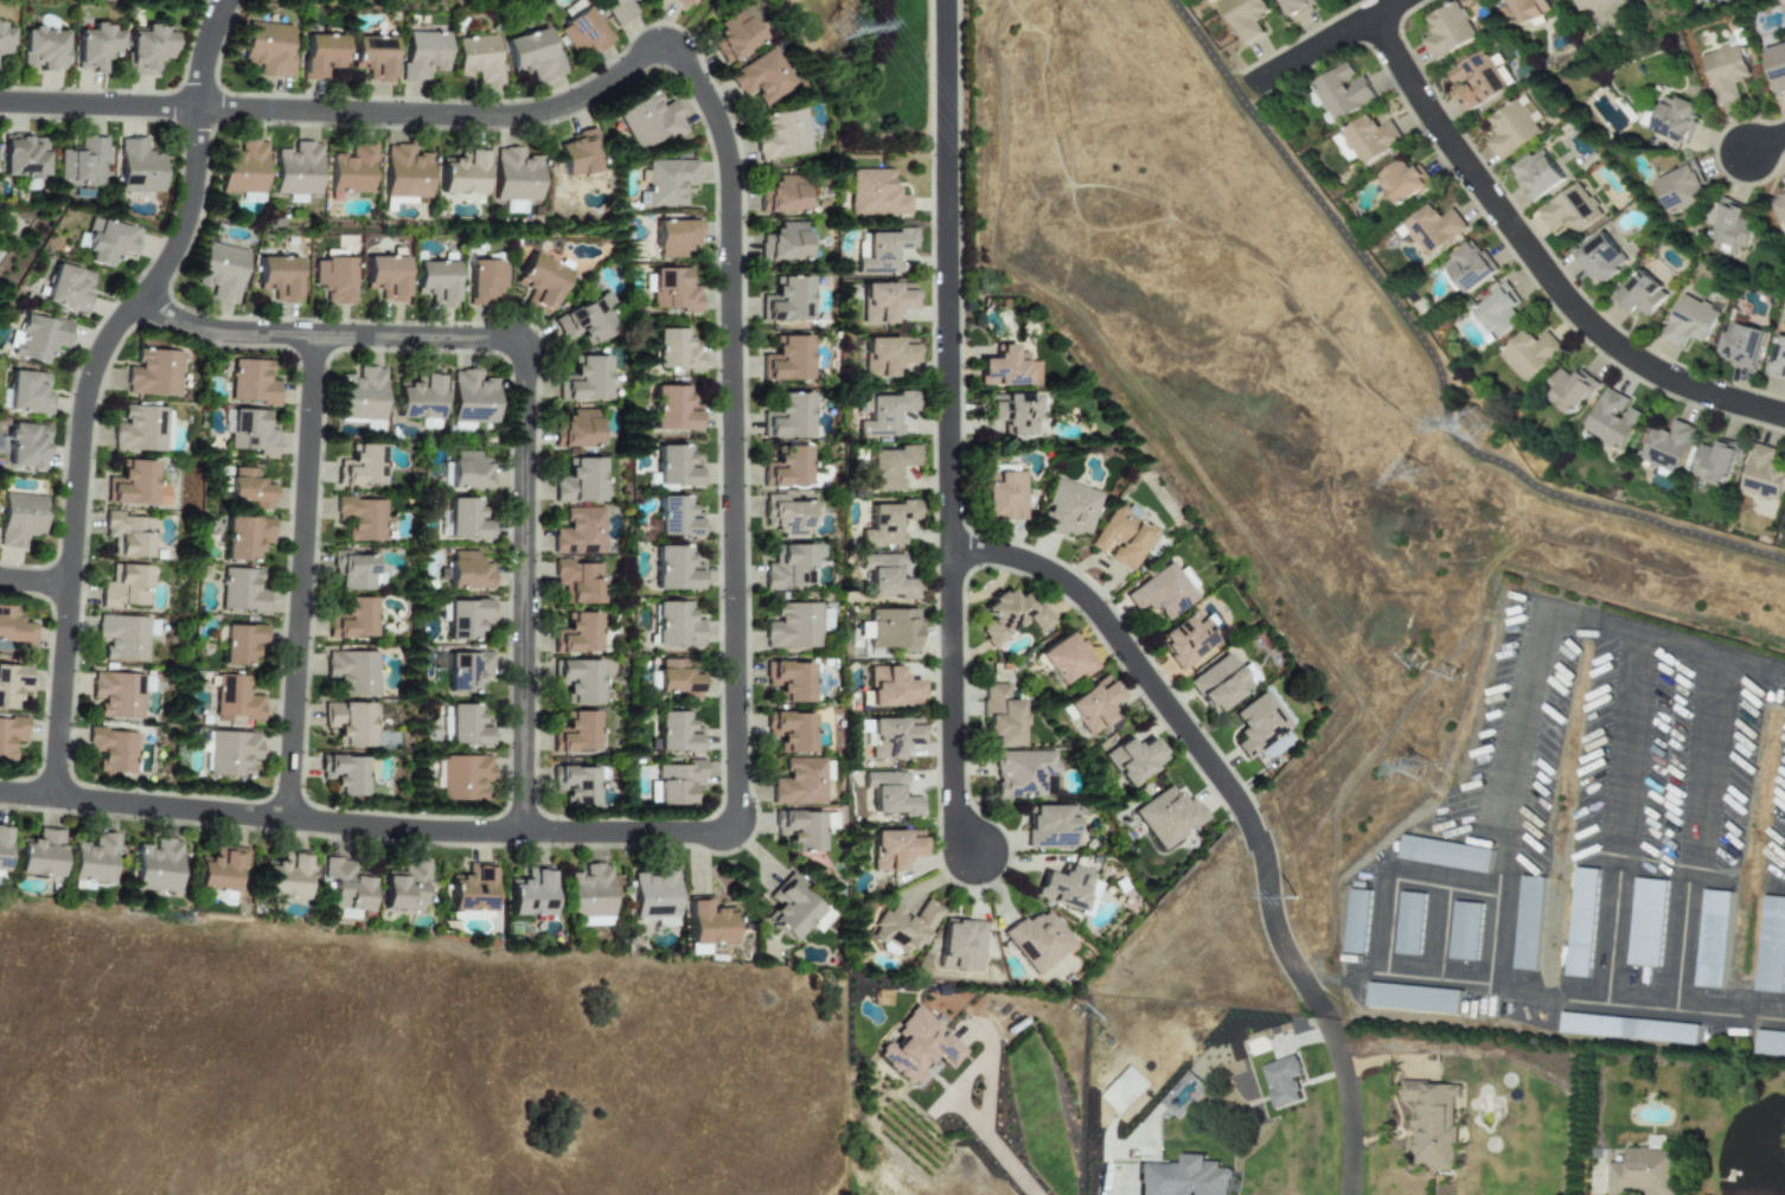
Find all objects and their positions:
building: (679, 2)
building: (1593, 4)
building: (1298, 6)
building: (613, 9)
building: (1528, 9)
building: (1246, 17)
power tower: (844, 31)
building: (1448, 31)
building: (577, 33)
building: (730, 36)
building: (4, 41)
road: (1326, 43)
building: (96, 46)
building: (41, 50)
building: (148, 50)
building: (267, 50)
building: (526, 55)
building: (418, 56)
building: (316, 57)
building: (369, 58)
building: (472, 58)
building: (1776, 66)
park: (907, 69)
building: (1725, 72)
building: (759, 78)
road: (1243, 82)
building: (1476, 82)
building: (1343, 91)
road: (345, 111)
building: (1674, 119)
building: (646, 122)
building: (1511, 130)
building: (779, 135)
building: (1370, 139)
road: (1766, 141)
building: (1343, 148)
building: (24, 156)
building: (576, 156)
building: (82, 165)
building: (139, 168)
building: (244, 168)
building: (299, 170)
building: (350, 172)
building: (403, 173)
building: (460, 175)
building: (1537, 175)
building: (513, 177)
building: (1403, 181)
building: (666, 183)
building: (1681, 188)
building: (875, 196)
building: (780, 197)
building: (1779, 205)
building: (1572, 210)
building: (1432, 229)
building: (1729, 229)
building: (672, 239)
building: (108, 243)
building: (781, 243)
building: (882, 250)
building: (1600, 258)
road: (1538, 262)
building: (1470, 267)
building: (220, 270)
building: (279, 277)
building: (380, 277)
road: (951, 277)
building: (328, 280)
building: (429, 283)
building: (536, 283)
building: (480, 285)
building: (69, 289)
building: (670, 293)
building: (1640, 294)
building: (785, 301)
building: (882, 303)
building: (1496, 312)
building: (1690, 321)
building: (581, 324)
building: (39, 338)
road: (325, 338)
building: (1741, 343)
building: (672, 352)
building: (1530, 353)
road: (1432, 357)
building: (884, 358)
building: (1779, 359)
building: (785, 362)
building: (1005, 370)
building: (154, 373)
building: (584, 381)
road: (91, 383)
building: (251, 383)
building: (1569, 389)
building: (28, 394)
building: (358, 396)
building: (471, 398)
building: (415, 400)
building: (670, 413)
building: (883, 414)
building: (1007, 415)
building: (786, 418)
building: (1613, 420)
building: (372, 427)
building: (141, 429)
power tower: (1476, 429)
building: (575, 430)
road: (734, 430)
building: (251, 433)
building: (26, 446)
building: (1669, 446)
building: (1716, 461)
building: (359, 468)
building: (672, 468)
building: (884, 468)
building: (785, 469)
building: (462, 472)
building: (1762, 474)
power tower: (1413, 477)
building: (577, 483)
building: (133, 484)
building: (249, 488)
building: (1000, 498)
building: (1066, 512)
building: (20, 519)
building: (359, 519)
building: (786, 519)
building: (461, 520)
building: (673, 520)
building: (885, 524)
building: (577, 533)
building: (128, 535)
building: (244, 537)
building: (1119, 539)
building: (787, 568)
building: (671, 571)
building: (350, 573)
building: (463, 573)
road: (301, 579)
building: (885, 580)
road: (36, 583)
building: (576, 583)
building: (126, 587)
road: (525, 589)
building: (239, 590)
building: (1158, 595)
building: (1007, 618)
building: (463, 620)
building: (351, 621)
building: (672, 627)
building: (792, 627)
building: (15, 630)
building: (892, 632)
building: (575, 637)
building: (123, 638)
building: (1182, 643)
building: (239, 644)
building: (1062, 662)
building: (462, 672)
building: (350, 676)
building: (576, 682)
building: (673, 682)
building: (786, 683)
building: (12, 684)
building: (1216, 685)
building: (890, 689)
building: (119, 695)
building: (233, 701)
road: (955, 707)
building: (1090, 708)
building: (998, 718)
road: (1183, 724)
building: (346, 726)
building: (1255, 727)
building: (461, 728)
building: (786, 734)
building: (575, 735)
building: (673, 735)
building: (11, 736)
building: (889, 740)
building: (114, 750)
building: (228, 754)
building: (1131, 761)
power tower: (1420, 773)
building: (345, 774)
building: (1021, 775)
building: (462, 778)
building: (795, 784)
building: (673, 785)
building: (576, 786)
building: (888, 797)
building: (1166, 817)
road: (1620, 817)
road: (365, 826)
building: (1048, 827)
road: (1694, 829)
building: (796, 832)
building: (2, 845)
building: (890, 852)
building: (1445, 854)
building: (39, 855)
building: (94, 862)
building: (155, 867)
building: (218, 869)
building: (283, 877)
road: (1457, 886)
building: (345, 888)
building: (403, 888)
building: (471, 889)
building: (1062, 890)
building: (587, 894)
building: (651, 895)
building: (525, 896)
building: (787, 914)
building: (1357, 921)
building: (1580, 922)
building: (1646, 922)
building: (1409, 924)
building: (1529, 924)
building: (704, 925)
building: (903, 929)
road: (1435, 931)
building: (1465, 931)
road: (1499, 939)
building: (1713, 939)
building: (1036, 941)
building: (960, 946)
building: (1771, 946)
building: (1414, 998)
road: (1316, 1003)
building: (1629, 1029)
building: (1770, 1044)
building: (914, 1048)
building: (1285, 1081)
road: (1346, 1104)
building: (1434, 1124)
building: (1657, 1142)
road: (993, 1146)
building: (1646, 1172)
building: (1185, 1177)

